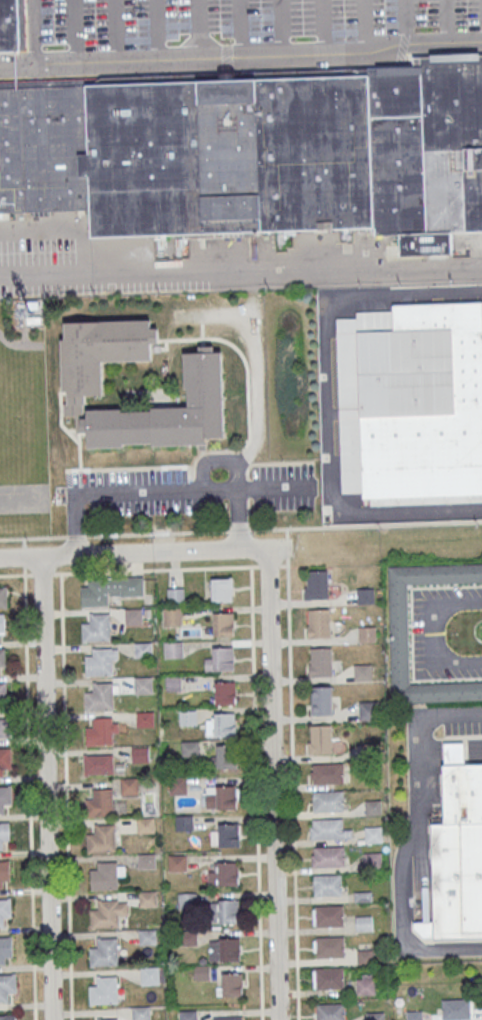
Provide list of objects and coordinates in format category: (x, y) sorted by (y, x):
street lamp: (425, 10)
street lamp: (344, 13)
street lamp: (260, 16)
street lamp: (178, 18)
street lamp: (95, 21)
road: (445, 22)
road: (406, 23)
road: (366, 24)
building: (9, 26)
road: (322, 26)
road: (240, 27)
parking lot: (245, 27)
road: (281, 27)
road: (197, 28)
road: (156, 29)
road: (76, 30)
road: (115, 30)
road: (35, 31)
road: (241, 54)
building: (254, 152)
parking lot: (59, 259)
road: (338, 267)
road: (97, 278)
building: (99, 354)
road: (254, 374)
road: (327, 396)
building: (411, 401)
building: (167, 412)
park: (23, 422)
road: (66, 430)
park: (3, 431)
road: (241, 448)
road: (272, 462)
road: (237, 471)
road: (189, 473)
road: (178, 474)
road: (201, 475)
road: (147, 476)
road: (70, 478)
road: (82, 478)
road: (190, 480)
road: (179, 487)
road: (275, 487)
parking lot: (282, 487)
road: (148, 488)
road: (247, 488)
road: (191, 490)
road: (70, 491)
road: (82, 491)
parking lot: (139, 491)
road: (152, 492)
park: (25, 499)
road: (193, 506)
road: (247, 513)
road: (238, 518)
road: (75, 525)
road: (364, 525)
road: (238, 530)
road: (157, 533)
road: (76, 536)
road: (33, 537)
street lamp: (28, 541)
road: (24, 542)
road: (125, 552)
road: (24, 557)
road: (269, 565)
road: (283, 565)
road: (156, 569)
road: (16, 574)
road: (43, 574)
building: (315, 584)
building: (222, 589)
building: (109, 590)
building: (175, 595)
building: (364, 596)
building: (3, 597)
building: (134, 616)
building: (172, 616)
building: (2, 623)
building: (317, 623)
building: (223, 624)
building: (96, 628)
building: (397, 633)
building: (366, 634)
road: (426, 635)
parking lot: (420, 636)
building: (173, 649)
building: (143, 650)
building: (2, 657)
building: (223, 658)
building: (99, 661)
building: (319, 662)
building: (361, 673)
building: (172, 683)
building: (143, 685)
building: (3, 692)
building: (225, 693)
building: (99, 697)
building: (320, 701)
building: (368, 711)
building: (187, 717)
building: (145, 719)
building: (225, 724)
parking lot: (462, 726)
building: (4, 728)
building: (99, 732)
building: (318, 740)
building: (190, 748)
building: (369, 751)
building: (140, 754)
building: (226, 757)
building: (4, 759)
building: (98, 764)
building: (326, 773)
road: (292, 774)
road: (273, 778)
building: (129, 785)
building: (177, 786)
road: (48, 787)
road: (29, 793)
road: (256, 793)
building: (465, 795)
road: (66, 796)
building: (5, 797)
building: (226, 797)
building: (327, 802)
building: (99, 803)
building: (372, 807)
building: (183, 823)
building: (327, 829)
building: (4, 833)
building: (229, 835)
building: (372, 835)
building: (101, 839)
road: (407, 839)
building: (327, 857)
building: (146, 861)
building: (177, 862)
building: (371, 862)
building: (4, 871)
building: (228, 873)
building: (104, 875)
building: (456, 885)
building: (326, 886)
building: (361, 897)
building: (147, 899)
building: (186, 900)
building: (4, 909)
building: (229, 910)
building: (104, 914)
building: (327, 916)
building: (362, 925)
building: (187, 937)
building: (6, 948)
building: (328, 948)
building: (229, 949)
building: (104, 952)
building: (363, 958)
building: (200, 972)
building: (150, 976)
building: (327, 979)
building: (232, 984)
building: (7, 986)
building: (364, 986)
building: (104, 990)
building: (456, 1009)
building: (329, 1011)
building: (141, 1013)
building: (188, 1014)
building: (414, 1015)
building: (374, 1016)
building: (7, 1017)
building: (228, 1018)
building: (110, 1019)

